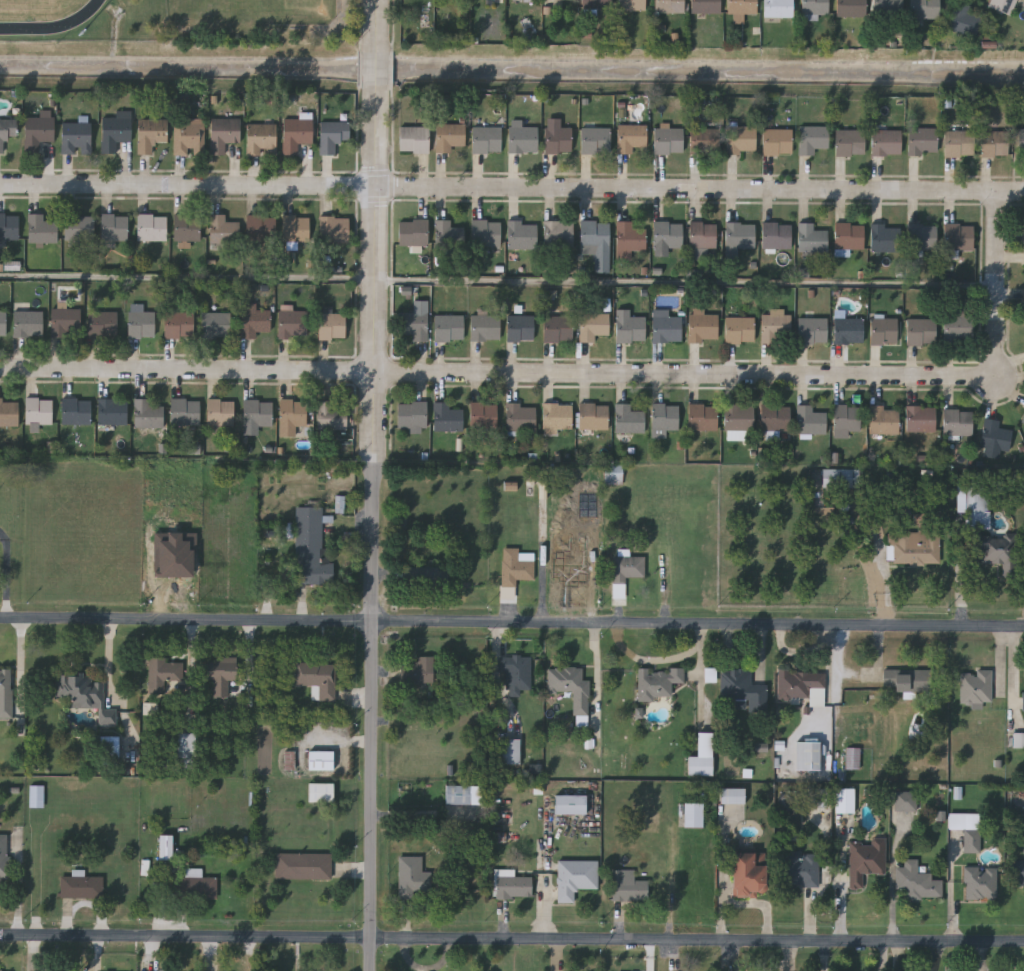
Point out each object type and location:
building: (597, 4)
building: (632, 4)
building: (1002, 5)
building: (669, 6)
building: (706, 6)
building: (887, 6)
building: (741, 7)
building: (779, 8)
building: (814, 8)
building: (851, 8)
building: (925, 9)
park: (266, 20)
building: (964, 20)
road: (363, 24)
road: (379, 25)
road: (395, 25)
road: (362, 67)
road: (393, 69)
road: (378, 73)
road: (359, 129)
road: (394, 130)
building: (7, 131)
building: (116, 131)
building: (39, 132)
building: (224, 133)
building: (152, 134)
building: (297, 134)
building: (333, 136)
building: (450, 137)
building: (77, 138)
building: (189, 138)
building: (523, 138)
building: (632, 138)
building: (263, 139)
building: (813, 139)
building: (415, 140)
building: (487, 140)
building: (558, 140)
building: (597, 140)
building: (741, 140)
building: (669, 141)
building: (704, 141)
building: (923, 141)
building: (778, 142)
building: (851, 142)
building: (887, 142)
building: (960, 143)
building: (1021, 143)
building: (995, 144)
road: (512, 186)
road: (393, 197)
building: (9, 227)
building: (79, 228)
building: (152, 228)
building: (187, 228)
building: (115, 229)
building: (261, 229)
building: (297, 229)
building: (335, 229)
building: (42, 230)
building: (223, 231)
building: (414, 233)
building: (487, 233)
building: (449, 235)
building: (523, 235)
building: (559, 235)
building: (668, 235)
building: (703, 236)
building: (741, 236)
building: (777, 236)
building: (850, 236)
building: (922, 237)
building: (886, 238)
building: (959, 238)
building: (631, 239)
building: (813, 239)
building: (597, 243)
road: (188, 277)
road: (686, 282)
building: (255, 322)
building: (66, 323)
building: (293, 323)
building: (333, 323)
building: (3, 324)
building: (29, 324)
building: (103, 324)
building: (142, 324)
building: (178, 325)
building: (216, 325)
building: (415, 326)
building: (594, 326)
building: (667, 327)
building: (704, 327)
building: (450, 328)
building: (486, 328)
building: (521, 328)
building: (631, 328)
building: (559, 329)
building: (777, 329)
building: (959, 329)
building: (813, 330)
building: (740, 331)
building: (849, 331)
building: (885, 331)
building: (922, 332)
road: (587, 374)
building: (39, 411)
building: (77, 411)
building: (9, 412)
building: (113, 412)
building: (150, 413)
building: (186, 413)
building: (221, 413)
building: (258, 413)
building: (292, 416)
building: (332, 416)
building: (413, 416)
building: (484, 416)
building: (594, 417)
building: (703, 417)
building: (447, 418)
building: (522, 418)
building: (558, 418)
building: (740, 418)
building: (664, 419)
building: (776, 419)
building: (848, 419)
building: (921, 419)
building: (629, 420)
building: (885, 420)
building: (811, 421)
building: (1023, 421)
building: (958, 423)
building: (996, 436)
building: (613, 473)
building: (841, 478)
building: (970, 497)
road: (374, 533)
building: (311, 547)
building: (915, 547)
building: (998, 551)
building: (515, 568)
building: (626, 571)
building: (423, 575)
road: (511, 624)
road: (649, 659)
building: (418, 670)
building: (162, 672)
building: (220, 673)
building: (515, 674)
road: (700, 675)
building: (318, 677)
building: (908, 679)
building: (657, 682)
building: (802, 685)
building: (977, 685)
building: (743, 689)
building: (572, 690)
building: (5, 692)
building: (84, 694)
building: (1023, 700)
building: (1019, 740)
building: (111, 747)
building: (188, 749)
building: (510, 751)
building: (808, 755)
building: (701, 756)
building: (852, 757)
building: (320, 759)
building: (320, 791)
building: (457, 794)
building: (38, 796)
building: (732, 796)
building: (817, 796)
building: (844, 800)
building: (906, 800)
building: (570, 804)
building: (693, 814)
building: (967, 829)
building: (165, 847)
building: (4, 855)
building: (866, 860)
building: (303, 865)
building: (802, 869)
building: (1018, 872)
building: (749, 874)
building: (410, 877)
building: (575, 878)
building: (916, 882)
building: (980, 884)
building: (194, 885)
building: (513, 885)
building: (627, 885)
building: (81, 886)
road: (512, 941)
building: (5, 970)

